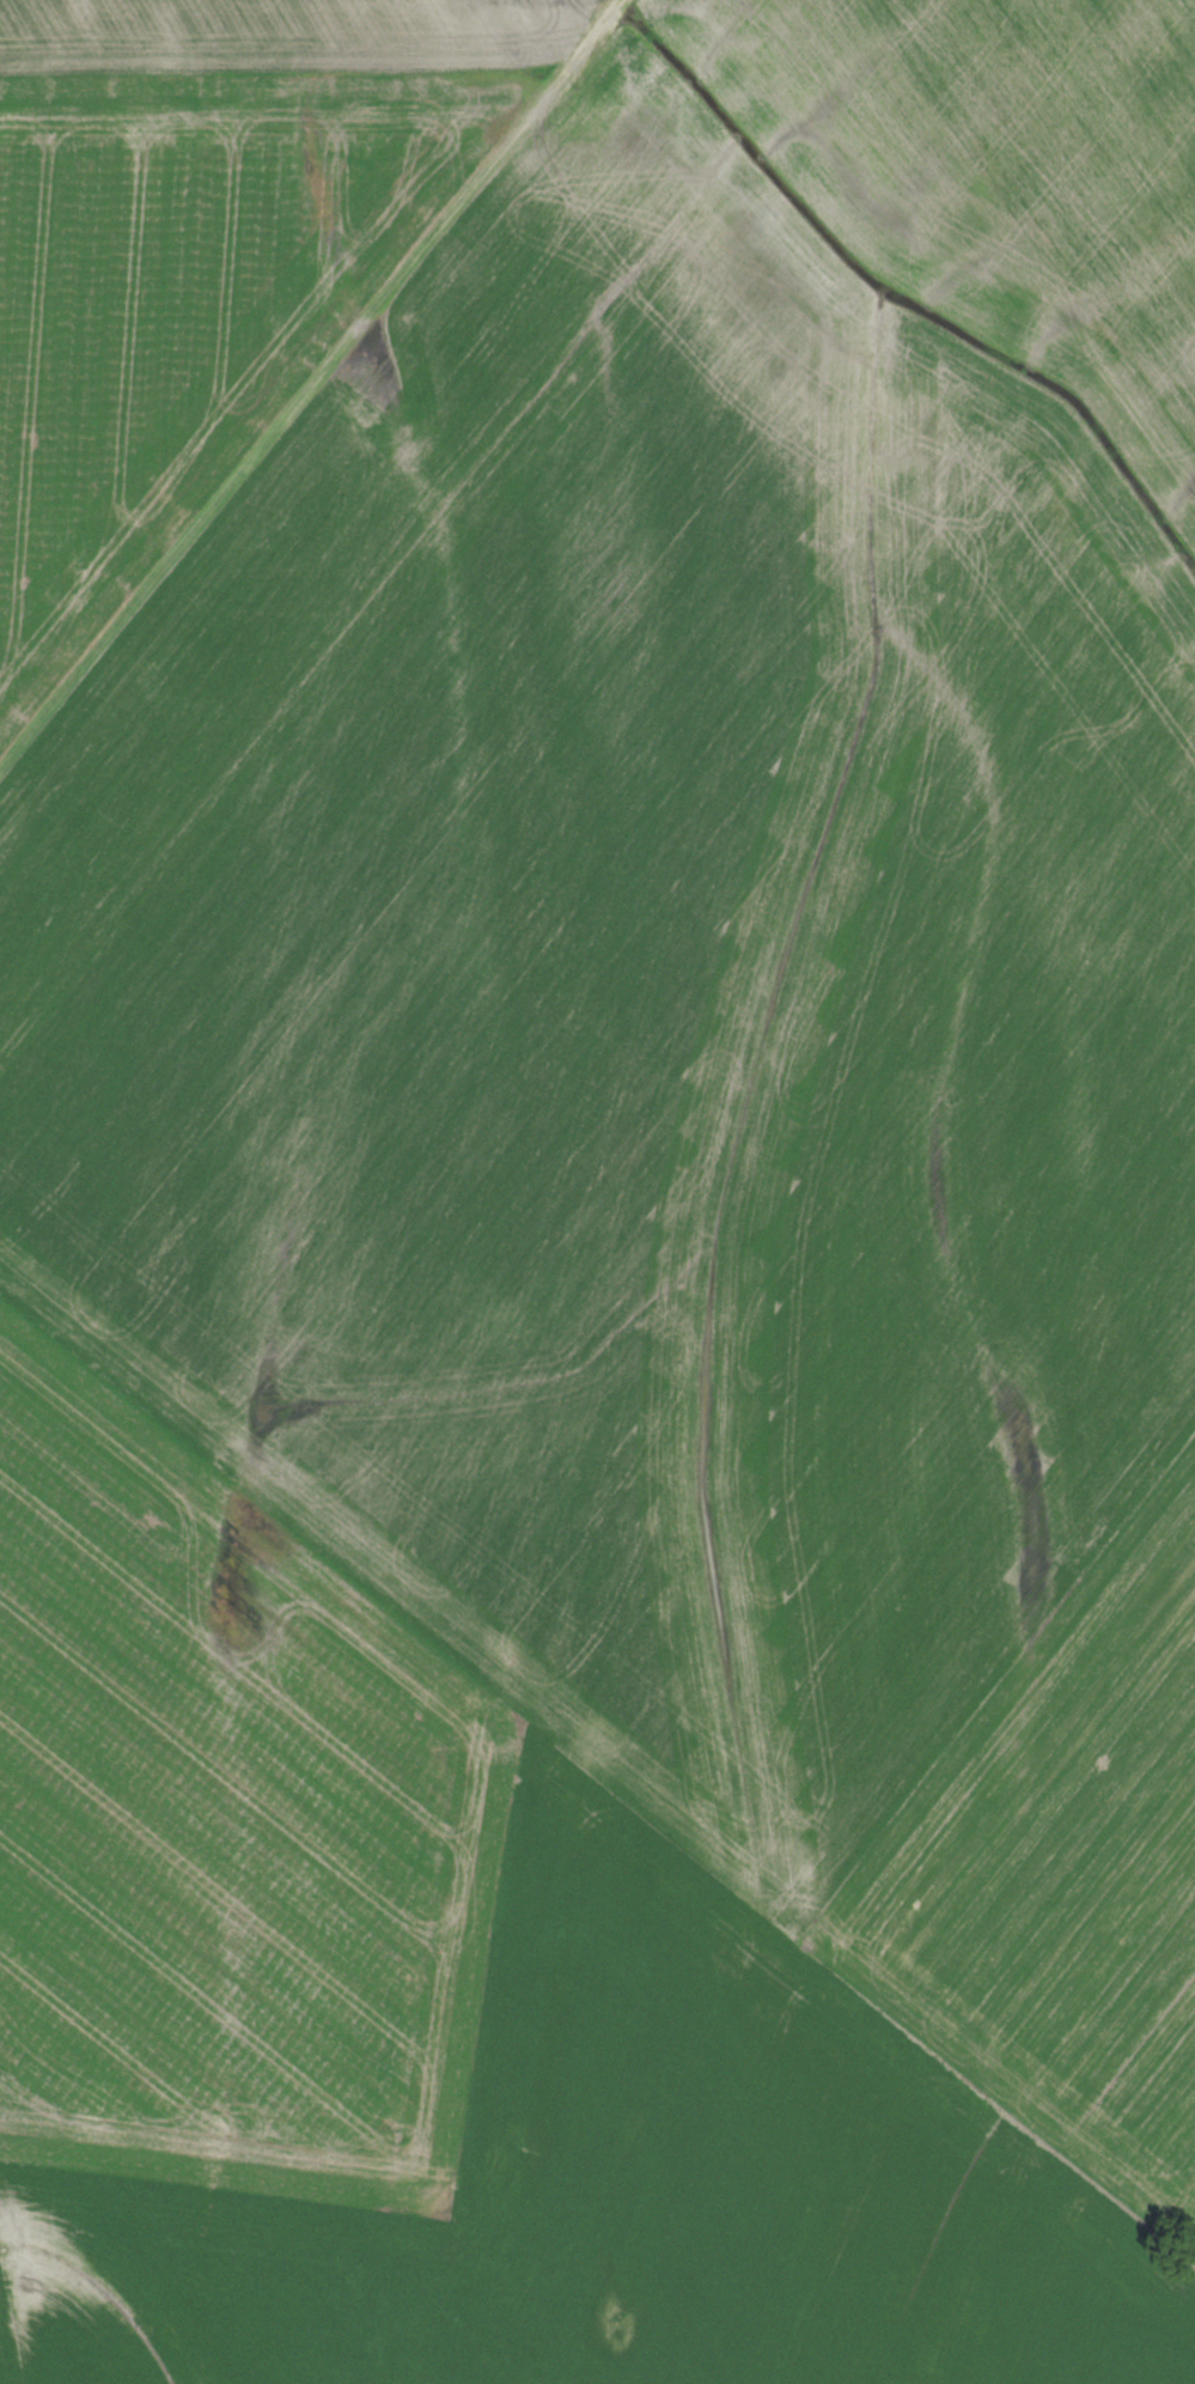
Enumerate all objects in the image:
road: (299, 382)
road: (1193, 2245)

